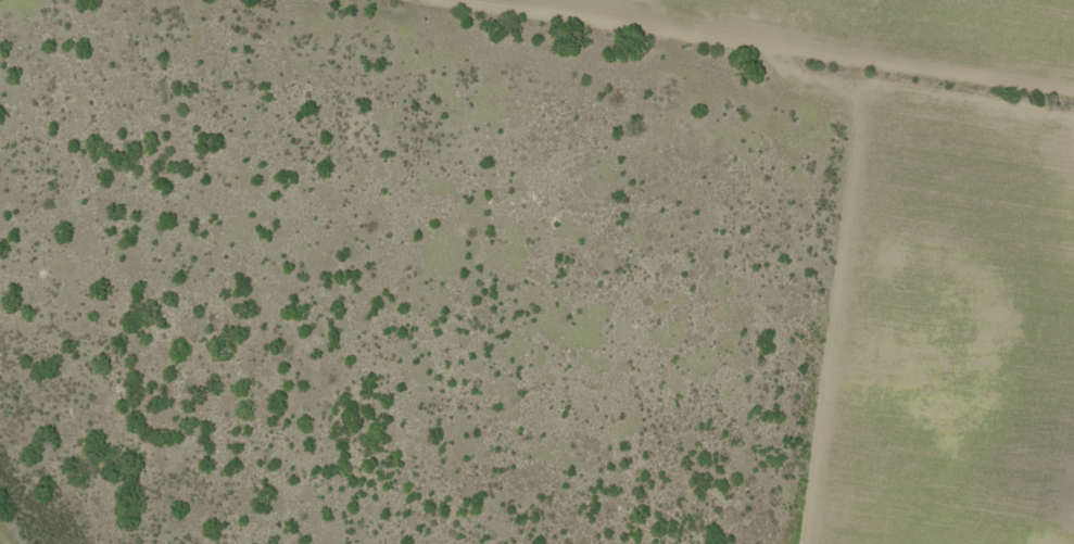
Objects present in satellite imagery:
road: (276, 421)
airport: (4, 537)

